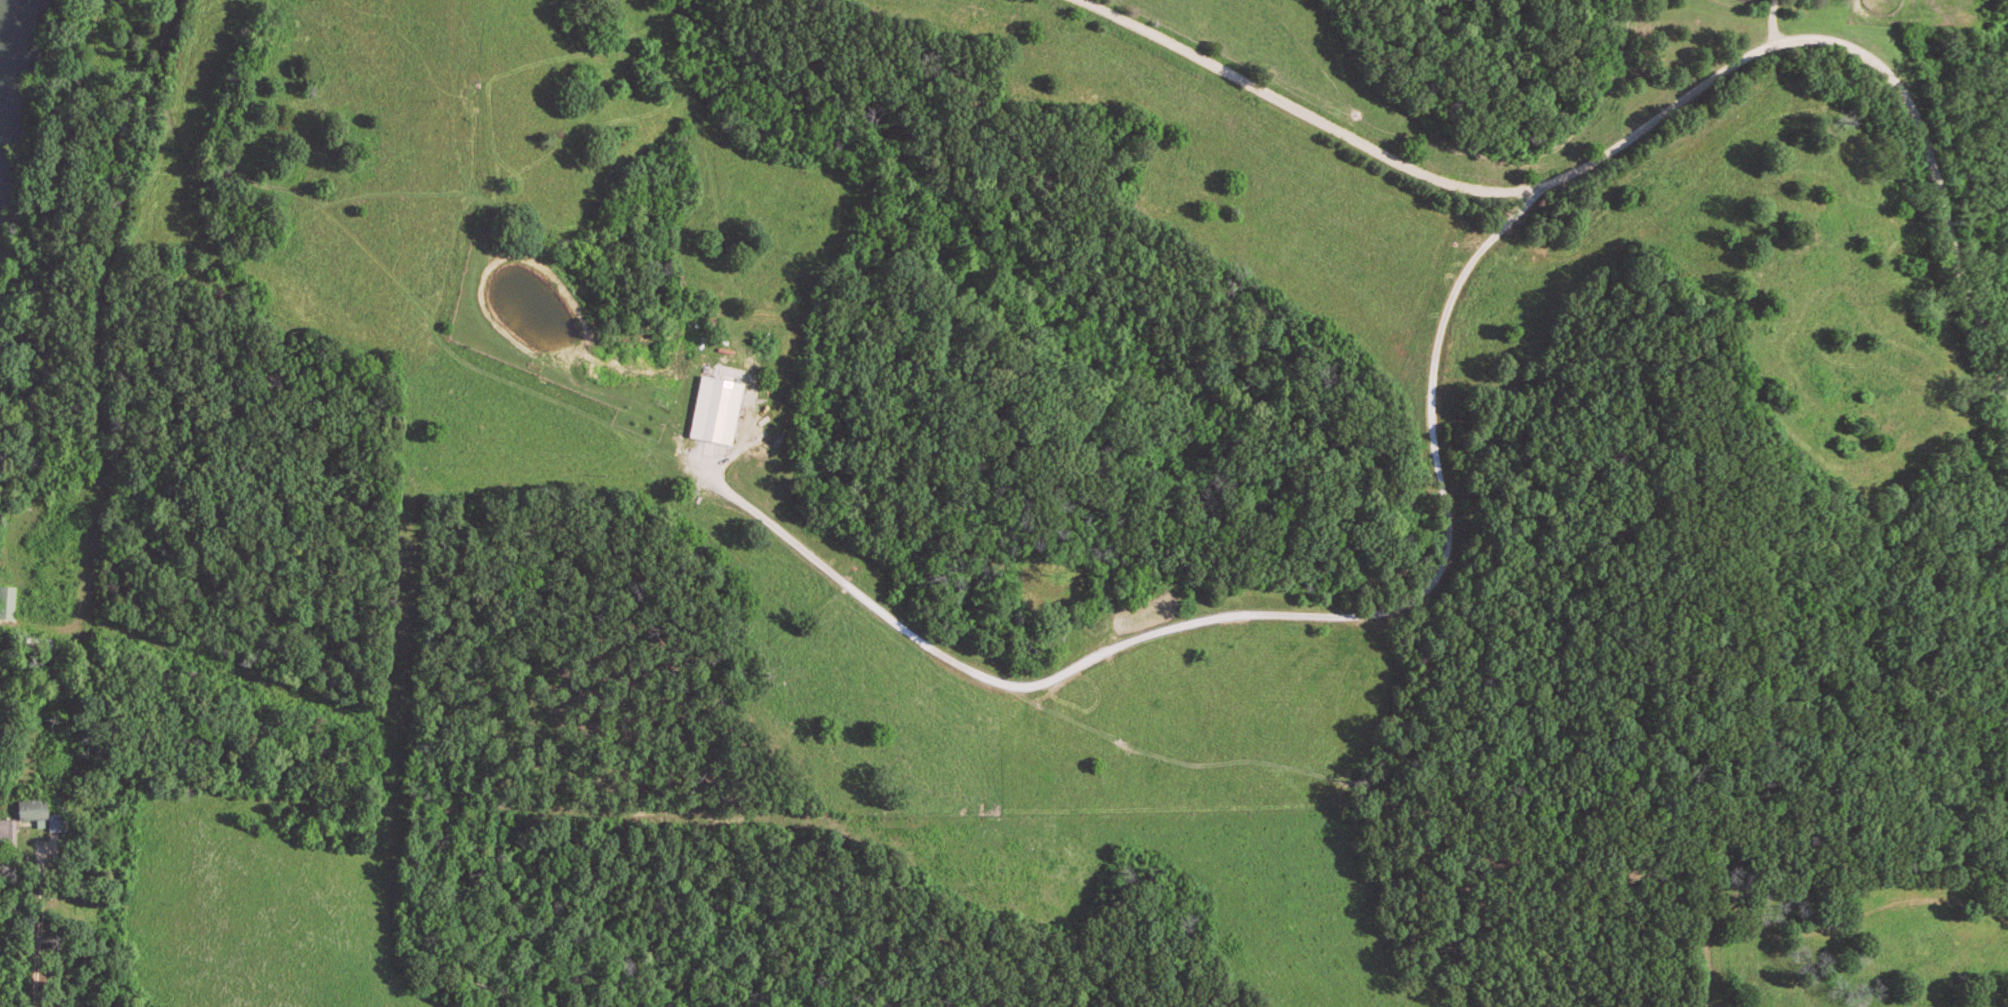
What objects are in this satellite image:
road: (1775, 26)
road: (1649, 118)
road: (100, 310)
building: (720, 411)
road: (1247, 614)
building: (5, 831)
road: (40, 933)

